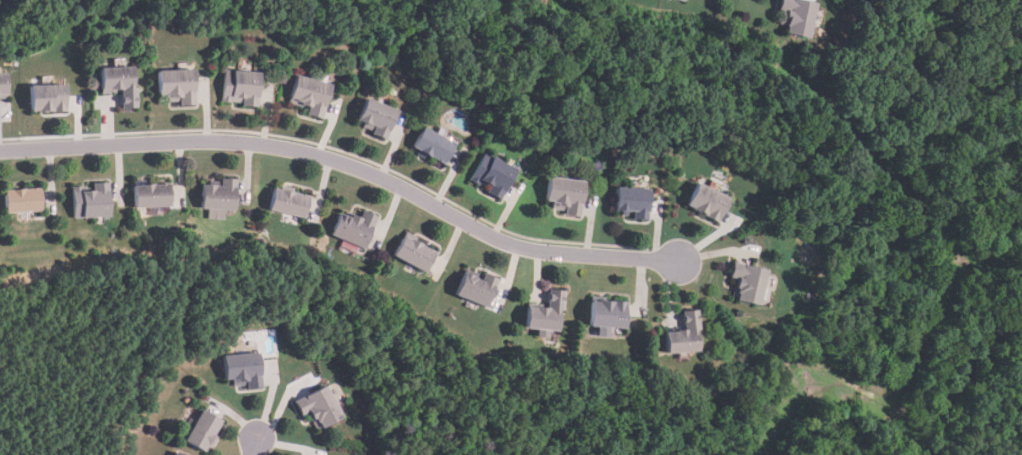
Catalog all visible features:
building: (677, 0)
building: (798, 18)
building: (121, 84)
building: (3, 85)
building: (179, 86)
building: (242, 88)
building: (311, 96)
building: (47, 98)
building: (378, 118)
building: (436, 146)
road: (347, 163)
building: (496, 176)
building: (568, 195)
building: (152, 196)
building: (220, 199)
building: (94, 201)
building: (27, 202)
building: (635, 202)
building: (709, 203)
building: (289, 204)
building: (354, 229)
building: (414, 254)
building: (750, 283)
building: (476, 289)
building: (547, 313)
building: (608, 316)
building: (683, 336)
building: (244, 368)
building: (321, 406)
building: (205, 428)
road: (253, 444)
building: (180, 453)
building: (171, 454)

